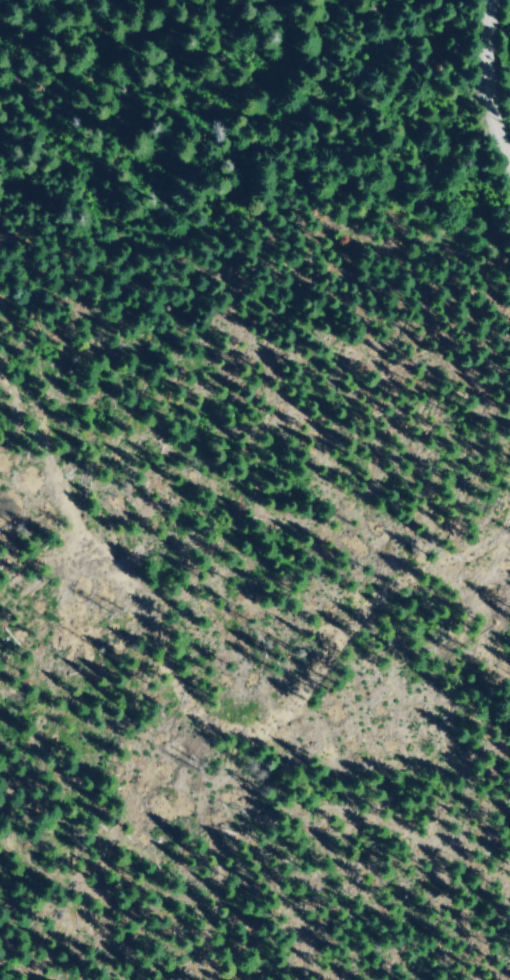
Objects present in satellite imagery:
road: (456, 138)

